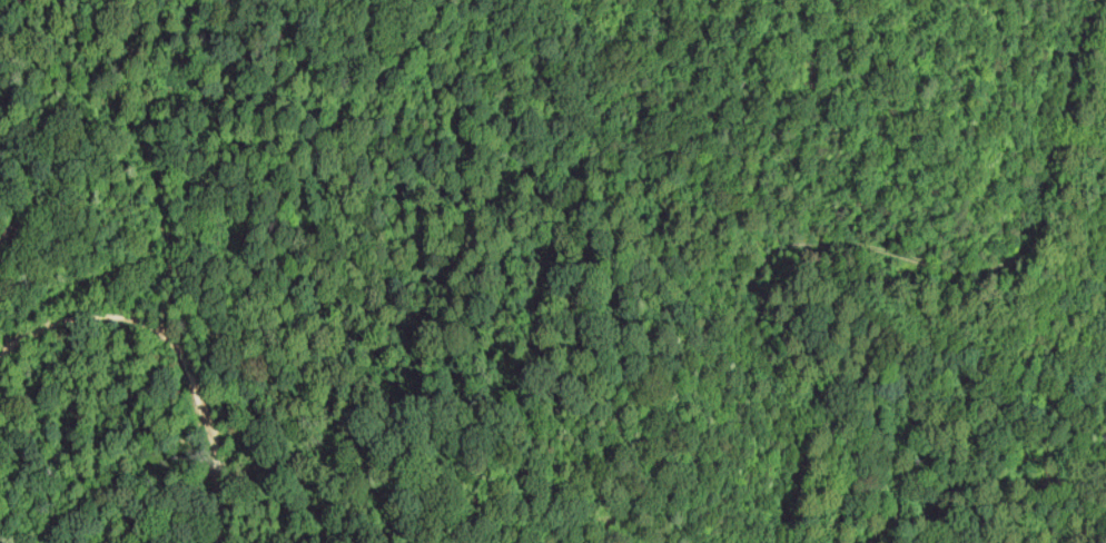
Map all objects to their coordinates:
road: (881, 253)

